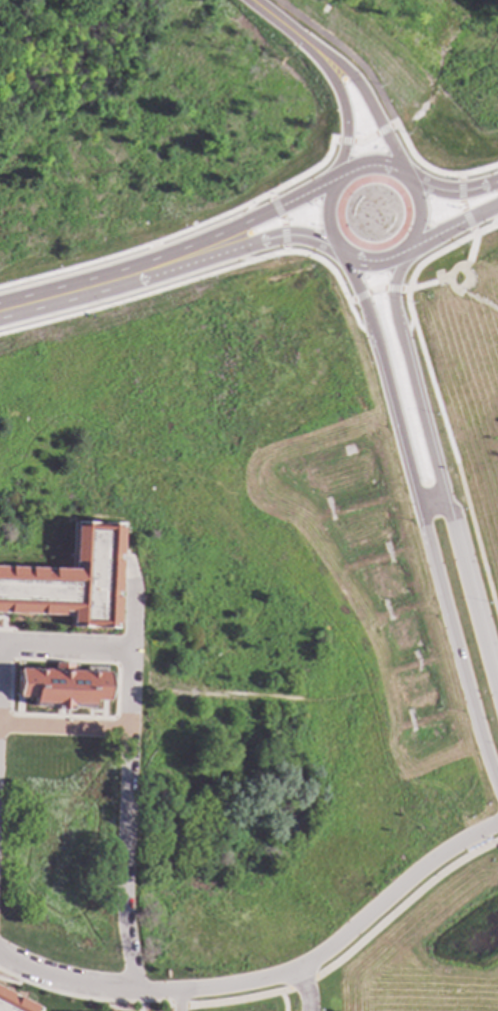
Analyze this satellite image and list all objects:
road: (276, 22)
road: (343, 53)
road: (366, 102)
road: (340, 107)
road: (372, 135)
road: (495, 165)
road: (495, 167)
road: (336, 181)
road: (451, 192)
road: (290, 202)
road: (496, 205)
road: (459, 206)
road: (245, 213)
road: (494, 218)
road: (280, 221)
road: (448, 228)
road: (486, 229)
road: (285, 236)
road: (405, 246)
road: (128, 252)
road: (311, 257)
road: (234, 258)
road: (420, 264)
road: (124, 269)
road: (450, 272)
road: (116, 287)
road: (375, 290)
road: (356, 292)
road: (392, 294)
road: (470, 298)
road: (128, 300)
road: (356, 322)
road: (406, 329)
park: (462, 378)
road: (457, 470)
road: (430, 497)
road: (448, 524)
road: (269, 557)
road: (435, 564)
building: (68, 584)
road: (6, 629)
road: (242, 633)
road: (64, 648)
road: (11, 651)
building: (61, 687)
road: (253, 696)
road: (5, 713)
road: (63, 728)
road: (125, 770)
road: (331, 945)
road: (350, 950)
road: (63, 981)
road: (304, 988)
road: (86, 999)
road: (178, 999)
road: (282, 1000)
building: (14, 1003)

